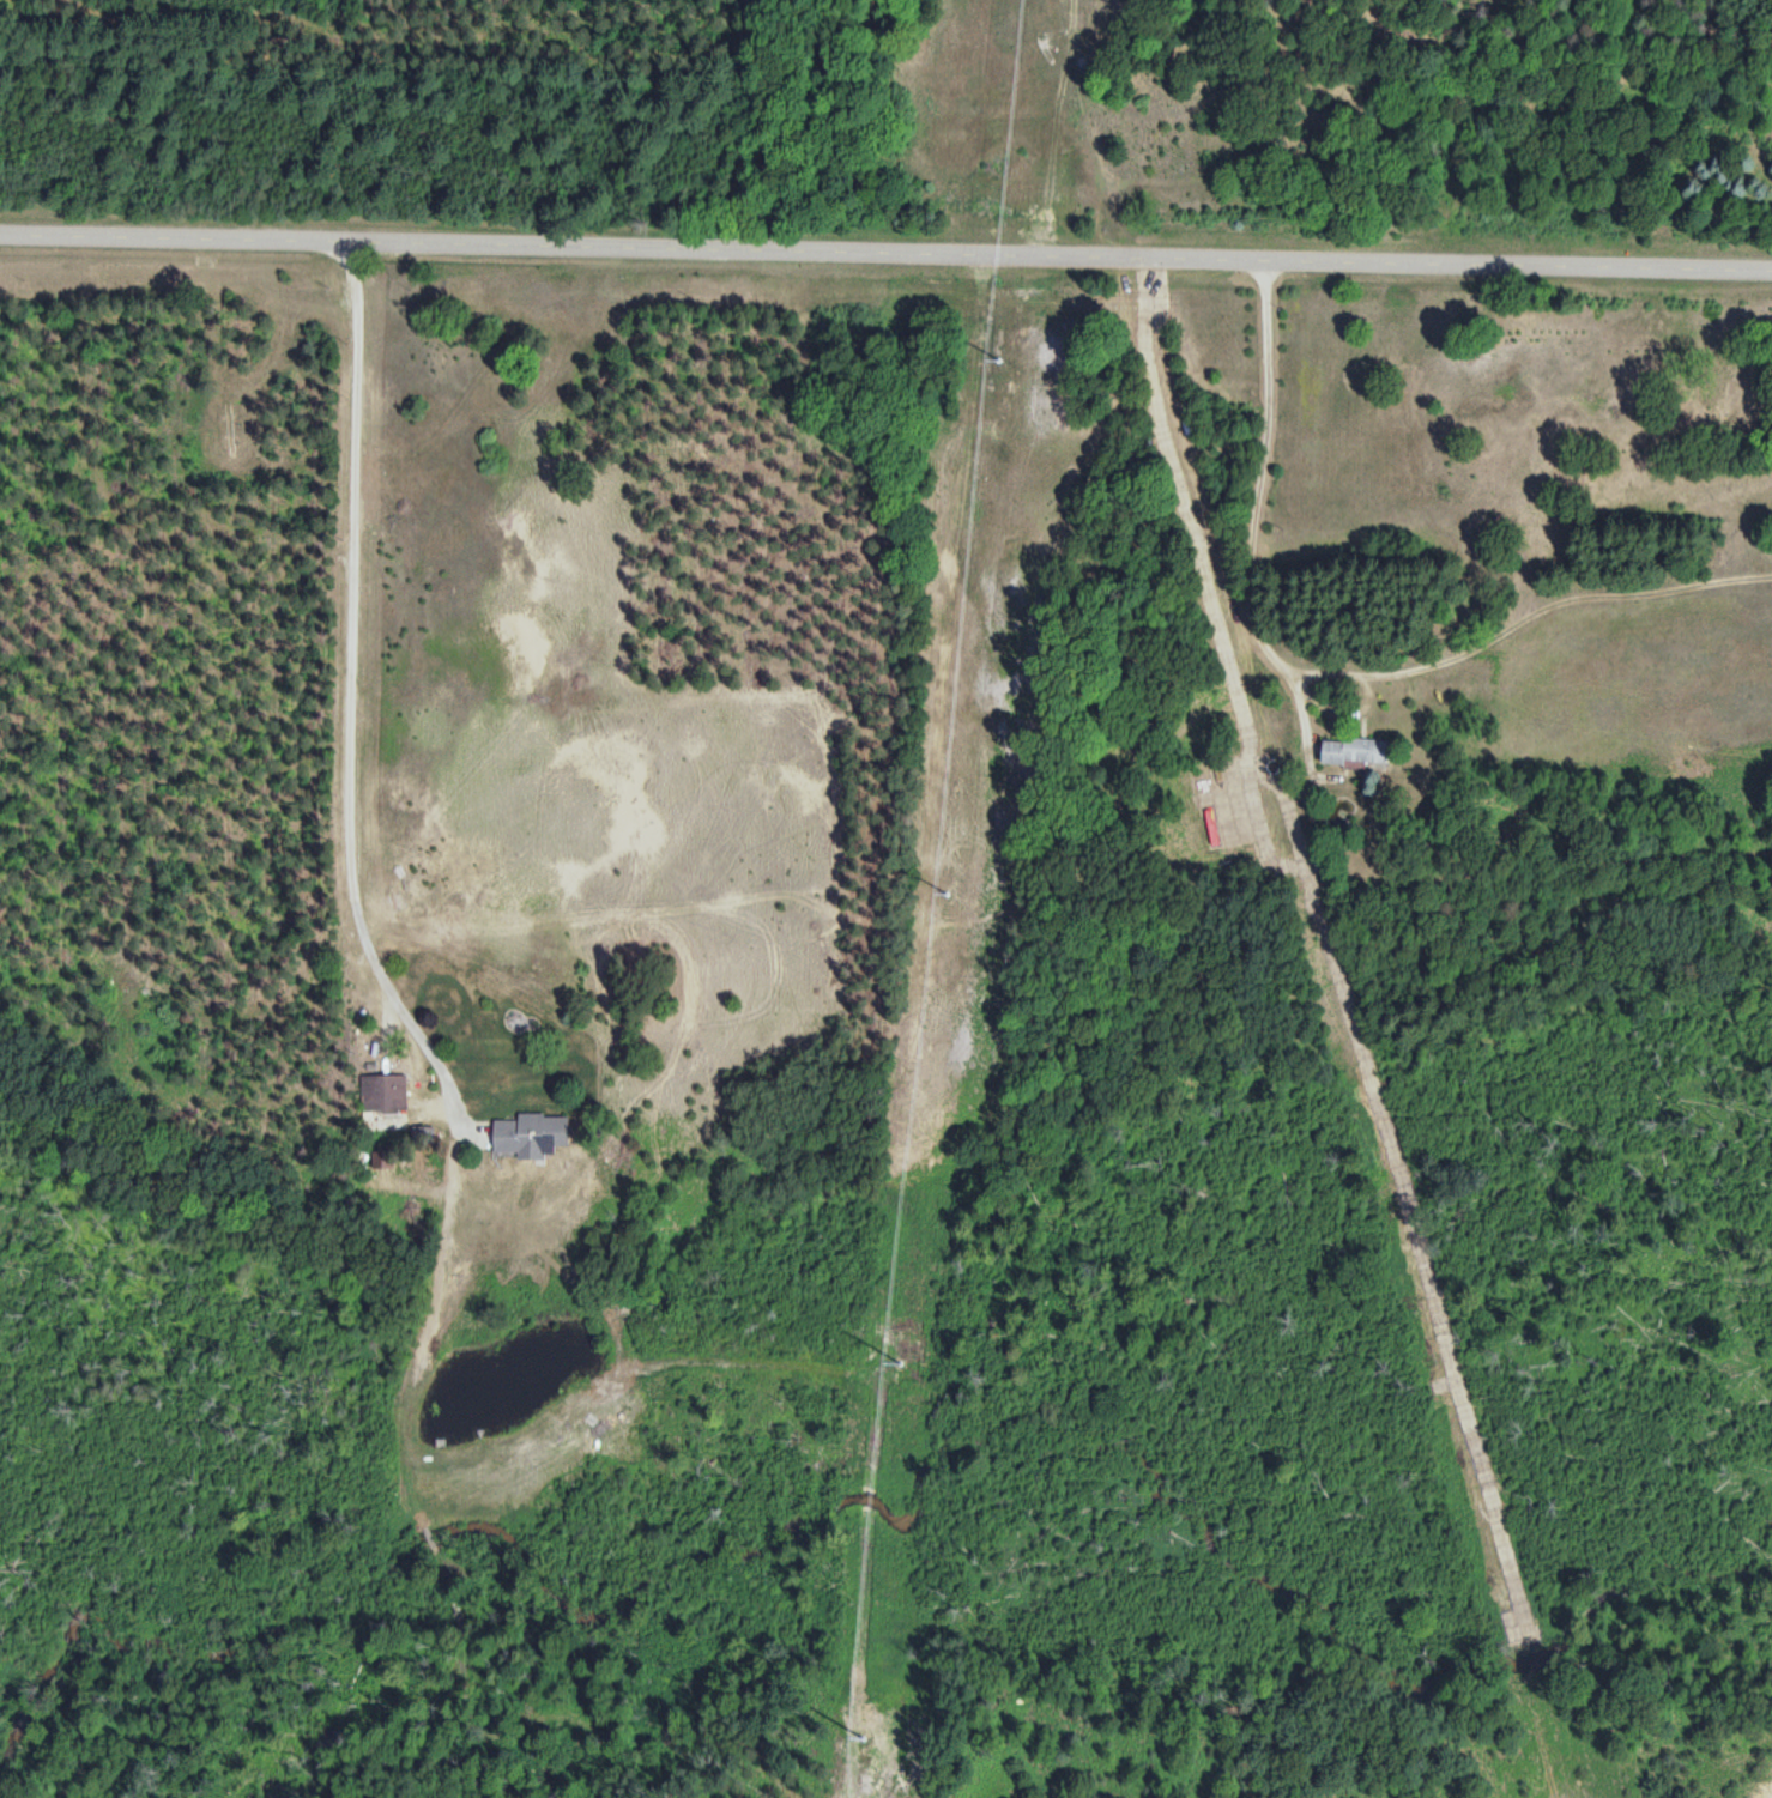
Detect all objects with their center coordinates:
road: (885, 235)
road: (1717, 400)
road: (727, 430)
road: (1236, 476)
road: (350, 686)
building: (1347, 752)
building: (380, 1091)
building: (514, 1137)

